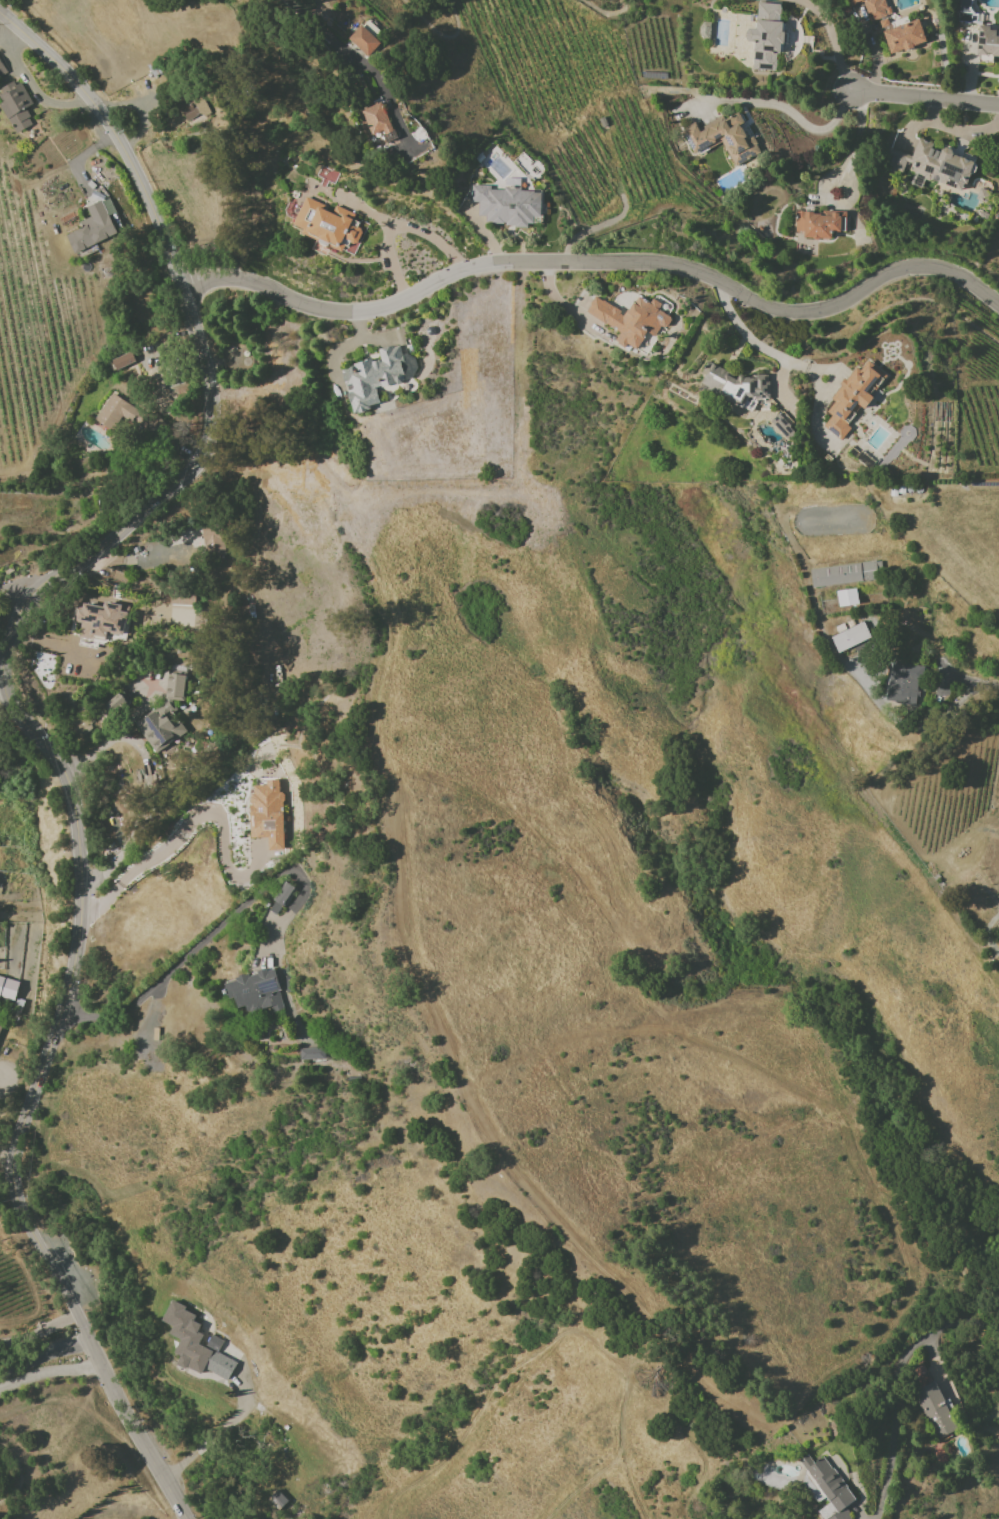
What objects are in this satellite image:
building: (872, 8)
road: (419, 29)
building: (980, 31)
building: (766, 35)
building: (904, 36)
building: (364, 40)
road: (340, 42)
road: (873, 55)
road: (969, 69)
road: (30, 83)
road: (925, 101)
building: (15, 107)
building: (193, 107)
road: (931, 112)
building: (376, 119)
road: (833, 120)
road: (946, 127)
building: (726, 139)
road: (851, 148)
building: (933, 165)
building: (506, 205)
road: (365, 212)
building: (326, 223)
building: (822, 223)
road: (391, 225)
building: (93, 228)
road: (596, 260)
building: (631, 319)
crop: (37, 322)
road: (741, 328)
building: (122, 360)
building: (372, 378)
building: (734, 385)
building: (852, 397)
building: (110, 412)
building: (783, 426)
building: (846, 573)
road: (13, 591)
building: (846, 597)
building: (102, 619)
building: (53, 638)
building: (851, 638)
building: (903, 683)
road: (2, 690)
road: (978, 701)
road: (23, 718)
building: (159, 726)
road: (146, 783)
road: (184, 829)
building: (280, 898)
road: (205, 937)
building: (8, 987)
building: (254, 991)
building: (0, 1025)
building: (311, 1053)
road: (38, 1332)
building: (188, 1338)
road: (41, 1351)
road: (896, 1385)
building: (934, 1410)
road: (233, 1419)
road: (200, 1448)
road: (177, 1464)
building: (828, 1488)
road: (140, 1504)

